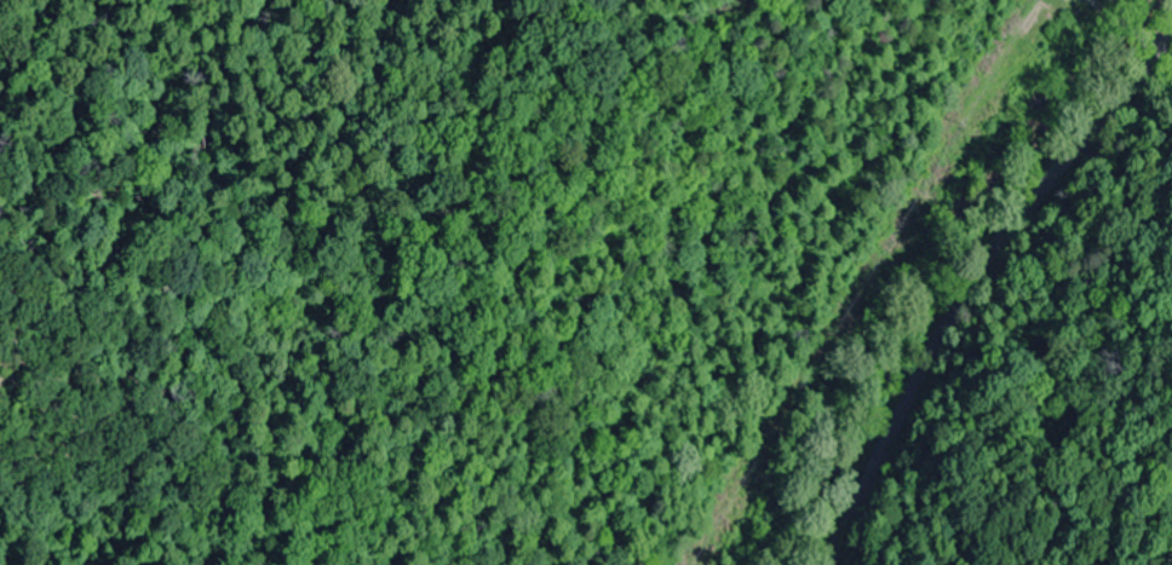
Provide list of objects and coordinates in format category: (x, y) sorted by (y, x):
road: (973, 283)

